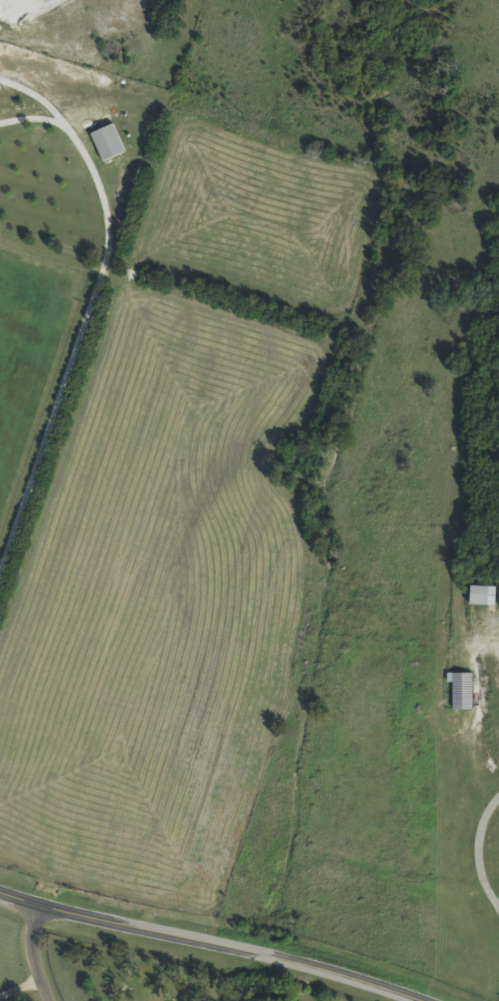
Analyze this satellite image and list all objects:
road: (39, 99)
road: (36, 117)
building: (110, 144)
road: (76, 351)
building: (475, 595)
building: (454, 691)
road: (476, 855)
road: (205, 943)
road: (39, 953)

